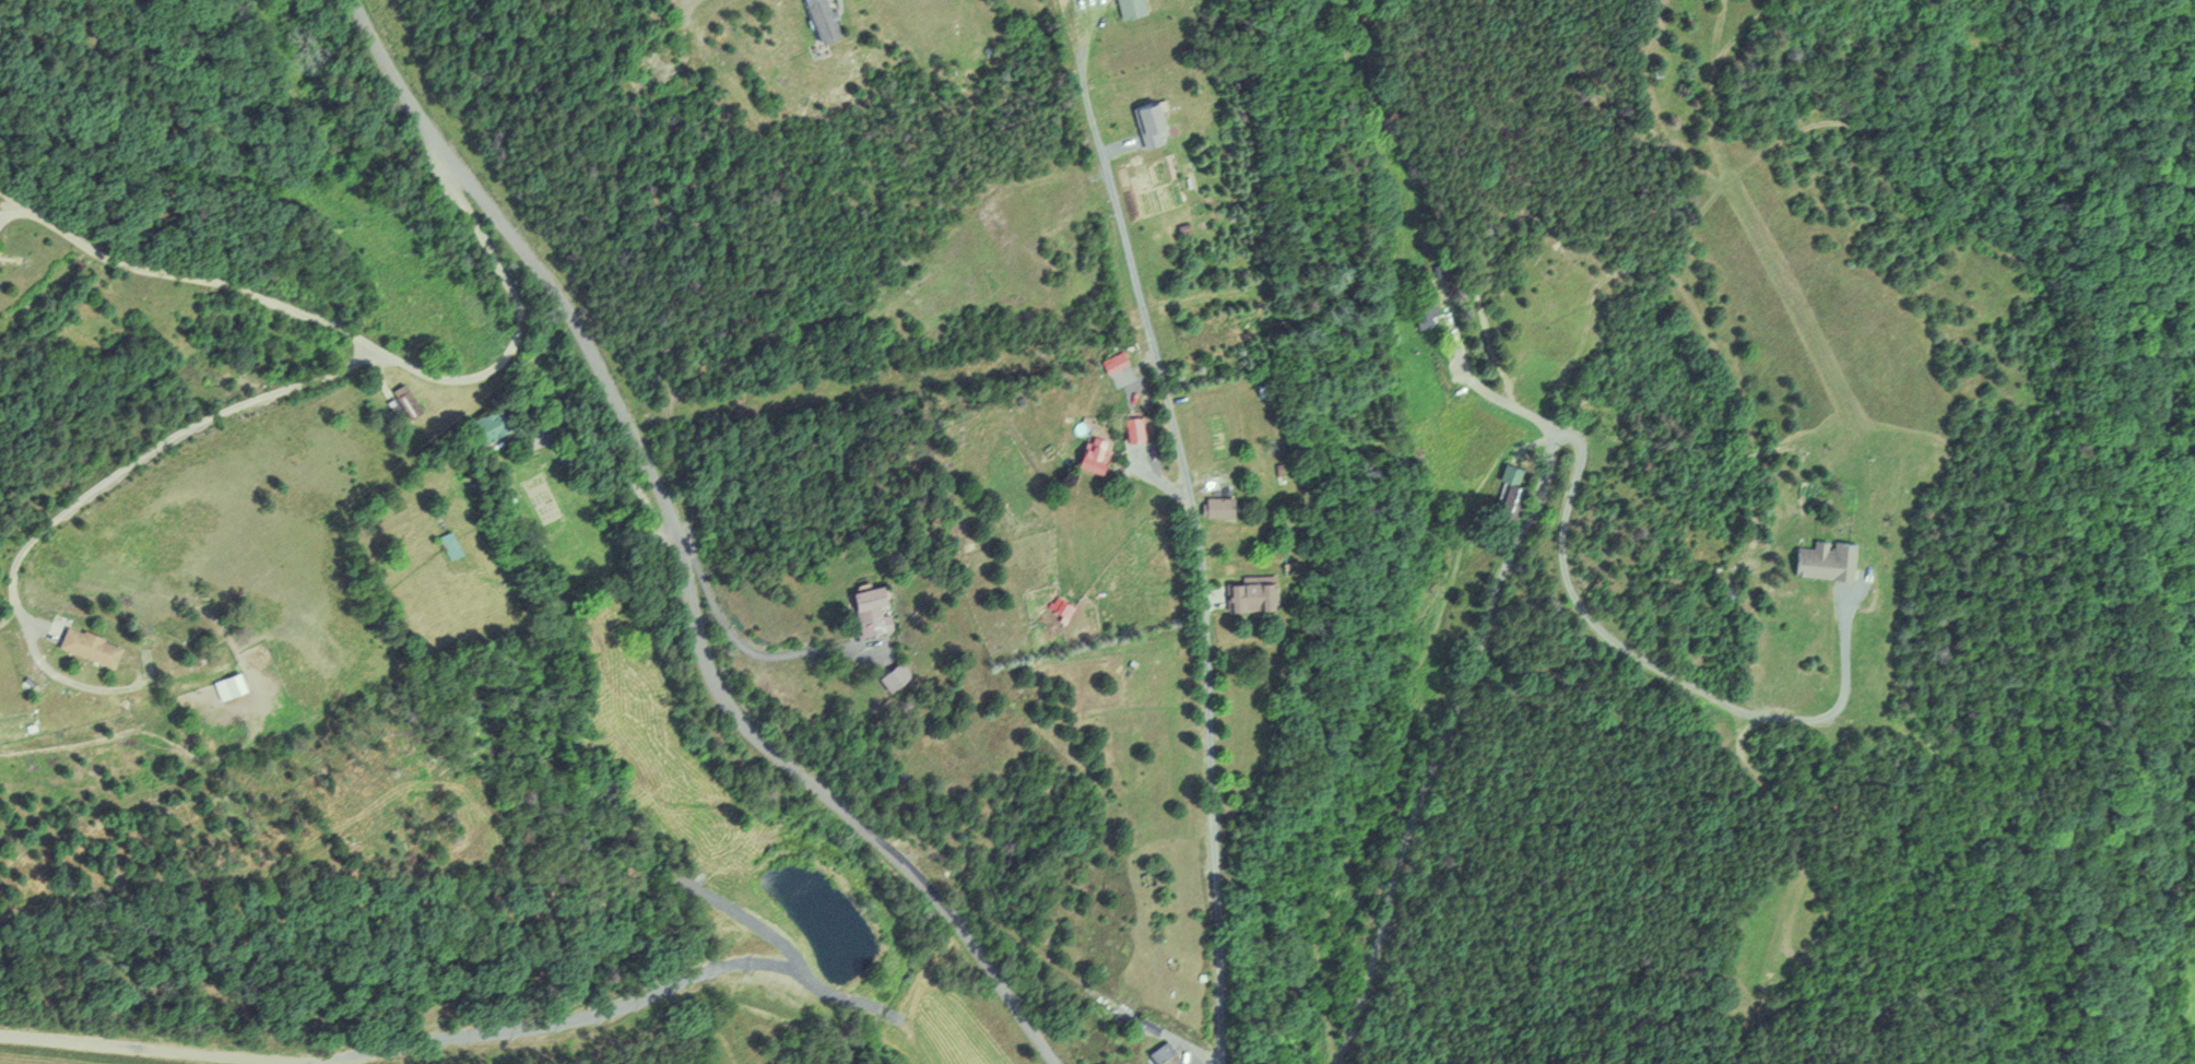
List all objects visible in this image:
road: (682, 7)
building: (1126, 7)
building: (816, 19)
building: (1146, 121)
road: (13, 211)
road: (186, 277)
building: (1423, 309)
building: (1111, 363)
building: (223, 370)
road: (316, 378)
building: (404, 401)
building: (487, 427)
building: (1131, 428)
building: (1089, 453)
building: (1511, 495)
building: (1215, 507)
road: (1196, 525)
building: (446, 545)
road: (683, 555)
building: (1821, 559)
building: (1246, 595)
building: (866, 612)
road: (24, 614)
building: (85, 647)
road: (744, 650)
building: (893, 675)
building: (234, 685)
building: (1159, 1053)

